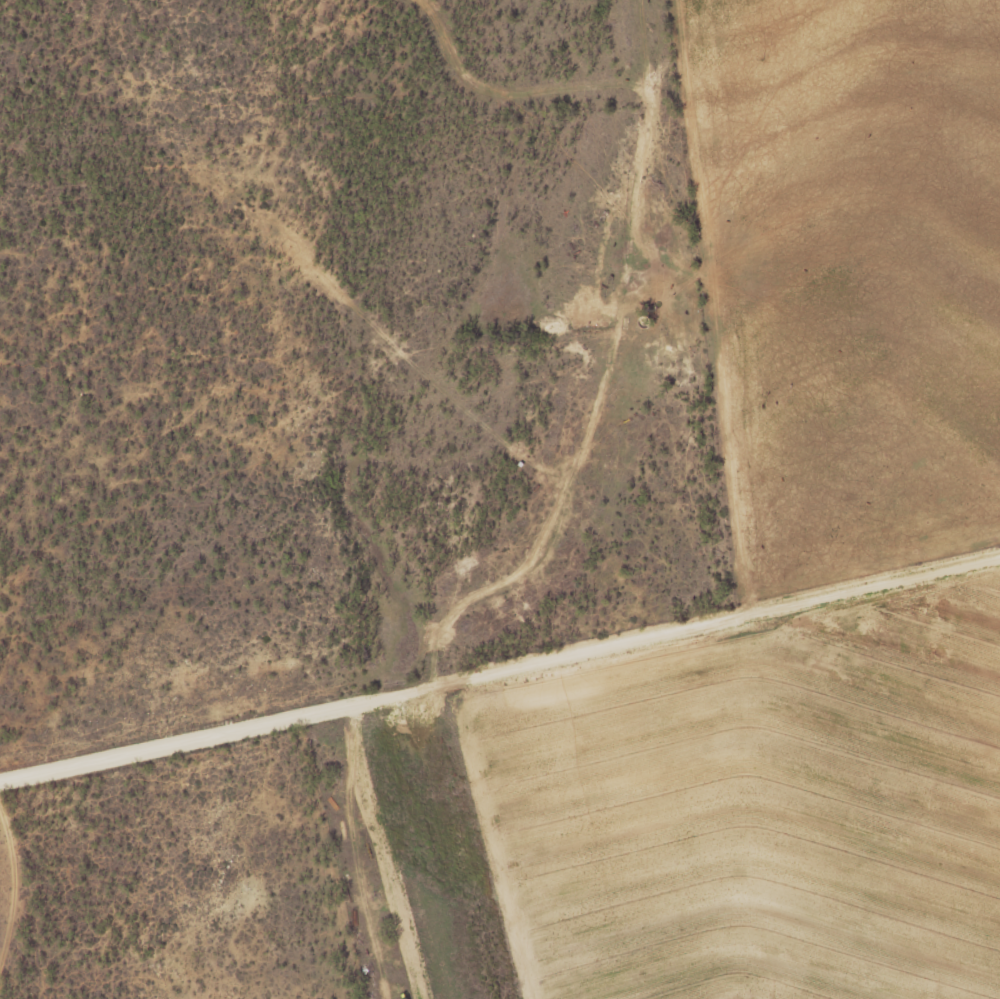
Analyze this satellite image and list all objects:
road: (994, 558)
road: (494, 670)

